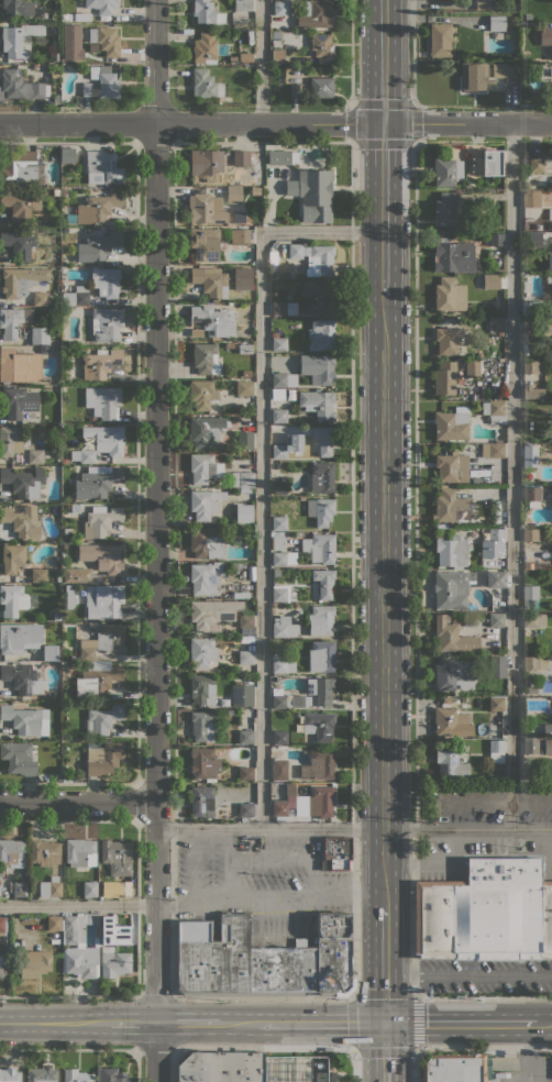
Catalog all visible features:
building: (296, 1)
building: (482, 4)
building: (102, 5)
building: (243, 5)
building: (18, 8)
building: (280, 8)
building: (207, 12)
building: (316, 13)
building: (65, 16)
building: (79, 16)
building: (528, 16)
building: (497, 23)
building: (547, 37)
building: (19, 38)
building: (440, 38)
building: (106, 40)
building: (205, 47)
building: (322, 48)
road: (351, 53)
building: (277, 55)
building: (245, 57)
road: (383, 60)
road: (262, 62)
building: (506, 69)
building: (290, 77)
building: (475, 77)
building: (101, 82)
building: (206, 84)
building: (20, 85)
building: (321, 87)
building: (549, 89)
building: (295, 90)
building: (57, 99)
road: (413, 104)
road: (276, 122)
traffic signals: (383, 122)
building: (67, 155)
building: (244, 157)
building: (281, 157)
building: (487, 163)
building: (207, 164)
building: (537, 164)
building: (102, 168)
building: (22, 169)
building: (448, 172)
building: (257, 175)
building: (255, 190)
building: (56, 191)
building: (64, 191)
building: (233, 195)
building: (316, 195)
building: (531, 198)
building: (19, 206)
building: (98, 207)
building: (206, 208)
road: (383, 209)
building: (444, 210)
building: (549, 213)
building: (239, 218)
building: (240, 235)
building: (496, 239)
building: (532, 240)
building: (18, 243)
building: (205, 244)
building: (98, 246)
building: (273, 252)
building: (314, 257)
building: (453, 257)
building: (550, 263)
building: (243, 278)
building: (21, 280)
building: (106, 280)
building: (210, 280)
building: (492, 281)
building: (280, 283)
building: (450, 295)
building: (76, 296)
building: (318, 297)
building: (41, 298)
building: (284, 308)
building: (533, 308)
building: (13, 321)
building: (212, 321)
building: (107, 324)
building: (544, 324)
building: (496, 325)
building: (321, 334)
building: (40, 335)
building: (526, 335)
building: (445, 341)
building: (278, 342)
building: (230, 344)
building: (245, 349)
building: (525, 350)
building: (206, 358)
building: (100, 363)
building: (19, 365)
building: (460, 366)
building: (531, 366)
building: (318, 367)
building: (473, 367)
building: (246, 373)
building: (444, 378)
building: (65, 379)
building: (284, 379)
building: (244, 388)
building: (532, 391)
building: (202, 394)
building: (277, 395)
building: (102, 401)
building: (20, 402)
building: (318, 402)
building: (494, 410)
building: (279, 416)
building: (92, 420)
building: (452, 423)
building: (205, 430)
building: (103, 439)
building: (11, 440)
building: (244, 440)
building: (322, 440)
building: (498, 441)
building: (493, 450)
building: (279, 451)
building: (81, 455)
building: (530, 455)
building: (35, 456)
building: (452, 467)
building: (203, 468)
road: (262, 470)
road: (511, 475)
building: (530, 476)
building: (321, 477)
building: (242, 479)
building: (23, 482)
building: (97, 482)
building: (279, 487)
building: (529, 493)
building: (205, 503)
building: (450, 507)
building: (320, 510)
building: (243, 512)
building: (499, 512)
building: (21, 521)
building: (100, 521)
building: (279, 522)
building: (490, 533)
building: (530, 534)
building: (79, 538)
road: (156, 541)
building: (277, 541)
building: (206, 542)
building: (322, 548)
building: (452, 551)
building: (486, 554)
building: (12, 557)
building: (283, 557)
building: (108, 559)
building: (527, 565)
building: (536, 565)
building: (545, 566)
building: (38, 575)
building: (80, 575)
building: (205, 578)
building: (495, 578)
building: (323, 582)
building: (450, 588)
building: (530, 592)
building: (279, 594)
building: (15, 600)
building: (69, 600)
building: (103, 600)
road: (384, 601)
building: (212, 612)
building: (55, 615)
building: (496, 619)
building: (245, 620)
building: (320, 620)
building: (533, 620)
building: (91, 625)
building: (284, 627)
building: (18, 636)
building: (452, 636)
road: (415, 637)
building: (103, 641)
building: (202, 652)
building: (49, 653)
building: (246, 655)
building: (321, 655)
road: (353, 658)
building: (481, 659)
building: (533, 662)
building: (281, 663)
building: (496, 666)
building: (454, 673)
building: (97, 677)
building: (22, 680)
building: (201, 689)
building: (534, 689)
building: (323, 691)
building: (242, 695)
building: (289, 700)
building: (496, 706)
building: (102, 719)
building: (25, 720)
building: (452, 722)
building: (319, 725)
building: (202, 726)
building: (548, 729)
building: (503, 732)
building: (245, 736)
building: (279, 737)
building: (530, 747)
building: (548, 747)
building: (496, 751)
building: (18, 758)
building: (106, 759)
building: (203, 763)
building: (319, 764)
building: (450, 764)
building: (279, 769)
building: (245, 773)
building: (200, 799)
road: (78, 802)
building: (314, 802)
building: (279, 808)
building: (245, 809)
road: (354, 828)
building: (12, 851)
building: (44, 852)
building: (80, 852)
building: (338, 853)
building: (117, 857)
road: (227, 865)
building: (0, 871)
building: (51, 887)
building: (19, 888)
building: (90, 888)
building: (123, 888)
building: (0, 891)
road: (271, 899)
road: (78, 905)
road: (172, 913)
building: (485, 913)
building: (54, 923)
building: (107, 923)
building: (1, 924)
building: (77, 927)
road: (137, 950)
building: (262, 959)
building: (80, 962)
building: (114, 962)
road: (384, 964)
building: (1, 967)
building: (34, 967)
road: (68, 995)
road: (155, 995)
road: (54, 1023)
road: (133, 1023)
road: (188, 1023)
road: (541, 1023)
road: (238, 1024)
road: (320, 1024)
traffic signals: (384, 1024)
road: (457, 1024)
road: (279, 1047)
road: (68, 1048)
road: (155, 1048)
road: (466, 1048)
road: (353, 1049)
road: (532, 1050)
road: (384, 1052)
road: (137, 1064)
road: (174, 1064)
building: (221, 1067)
building: (456, 1068)
power substation: (298, 1070)
building: (42, 1073)
building: (9, 1075)
building: (76, 1075)
building: (109, 1075)
road: (517, 1078)
road: (533, 1080)

